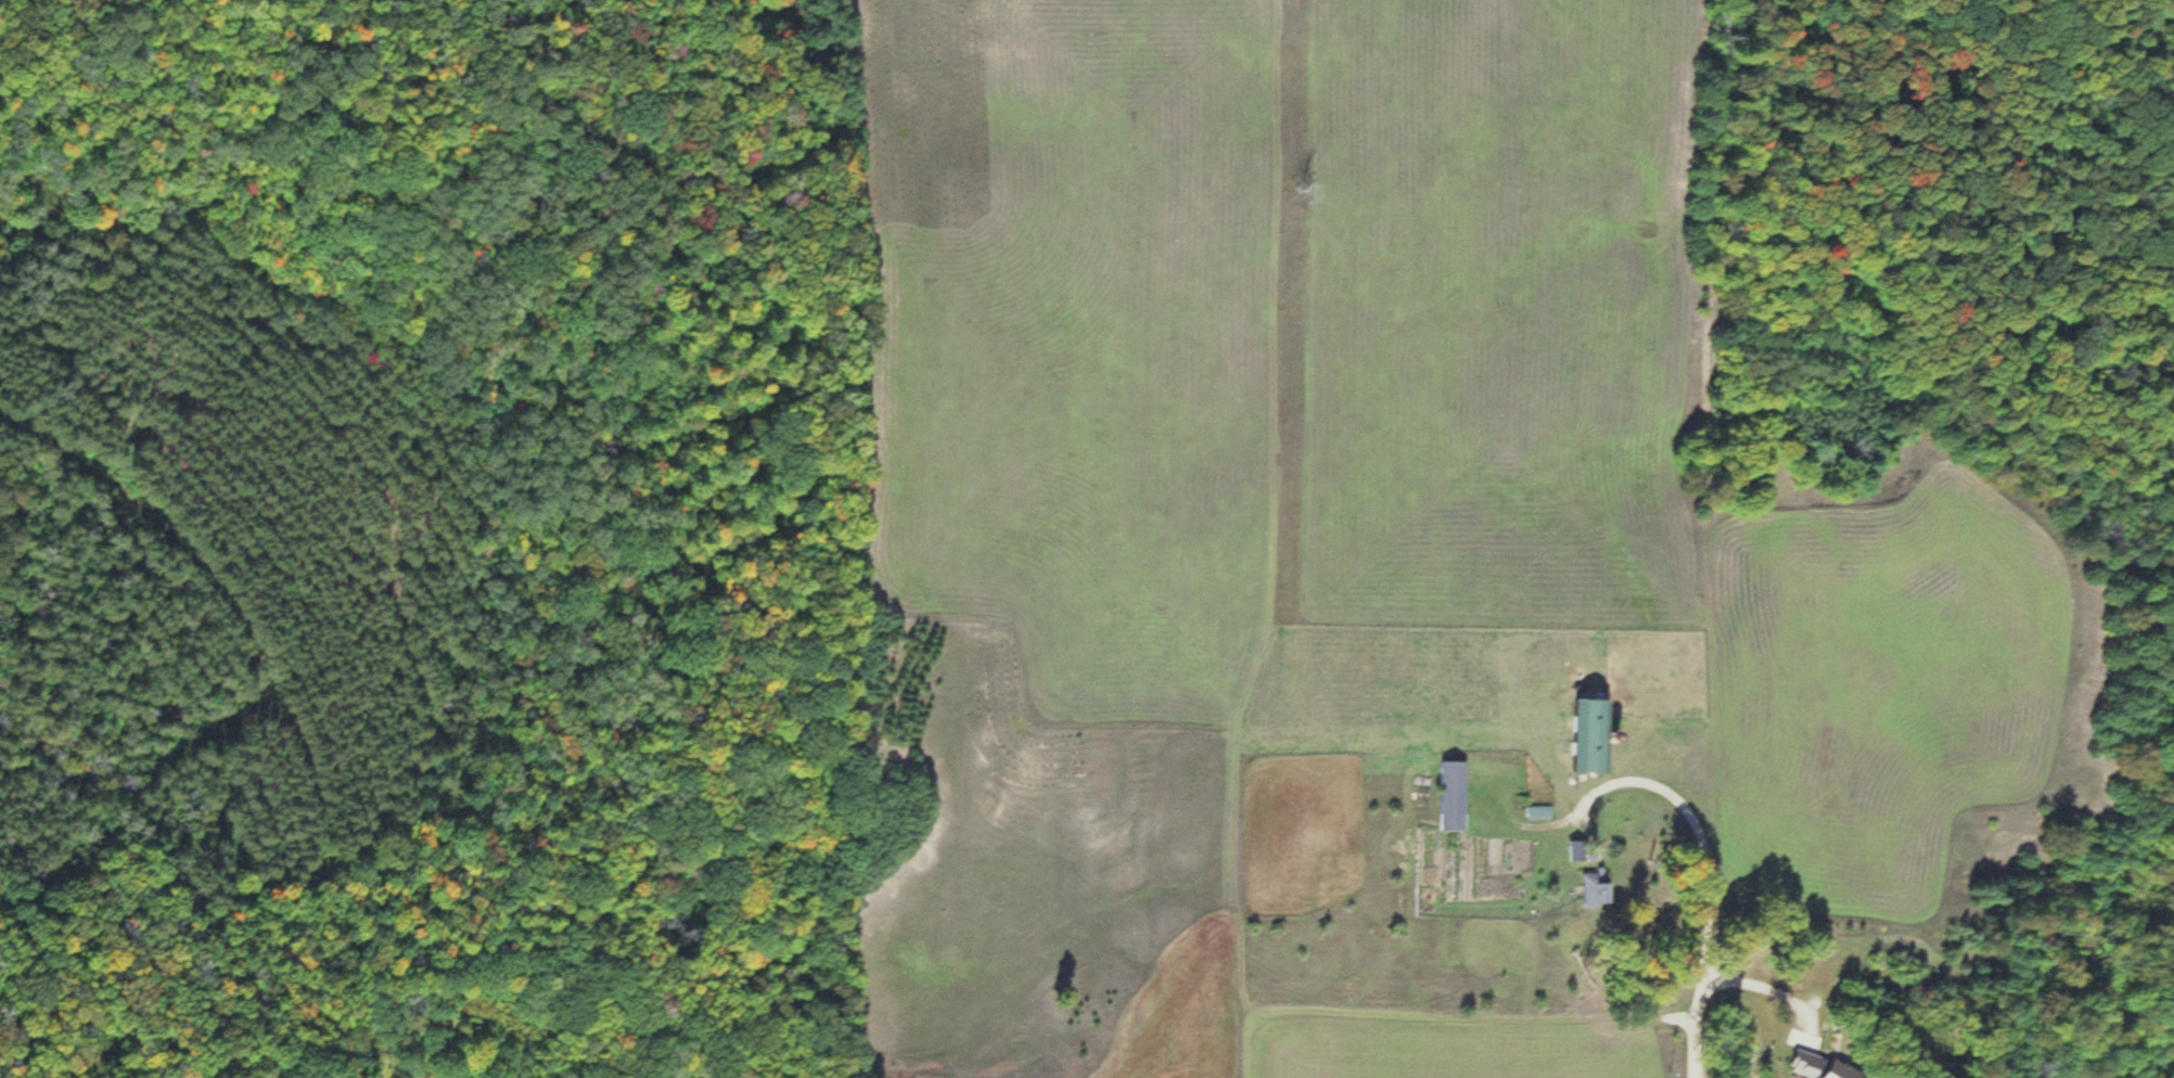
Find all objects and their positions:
building: (1591, 734)
building: (1449, 795)
road: (1692, 833)
building: (1575, 850)
building: (1595, 887)
road: (1754, 985)
road: (1689, 1047)
building: (1825, 1068)

